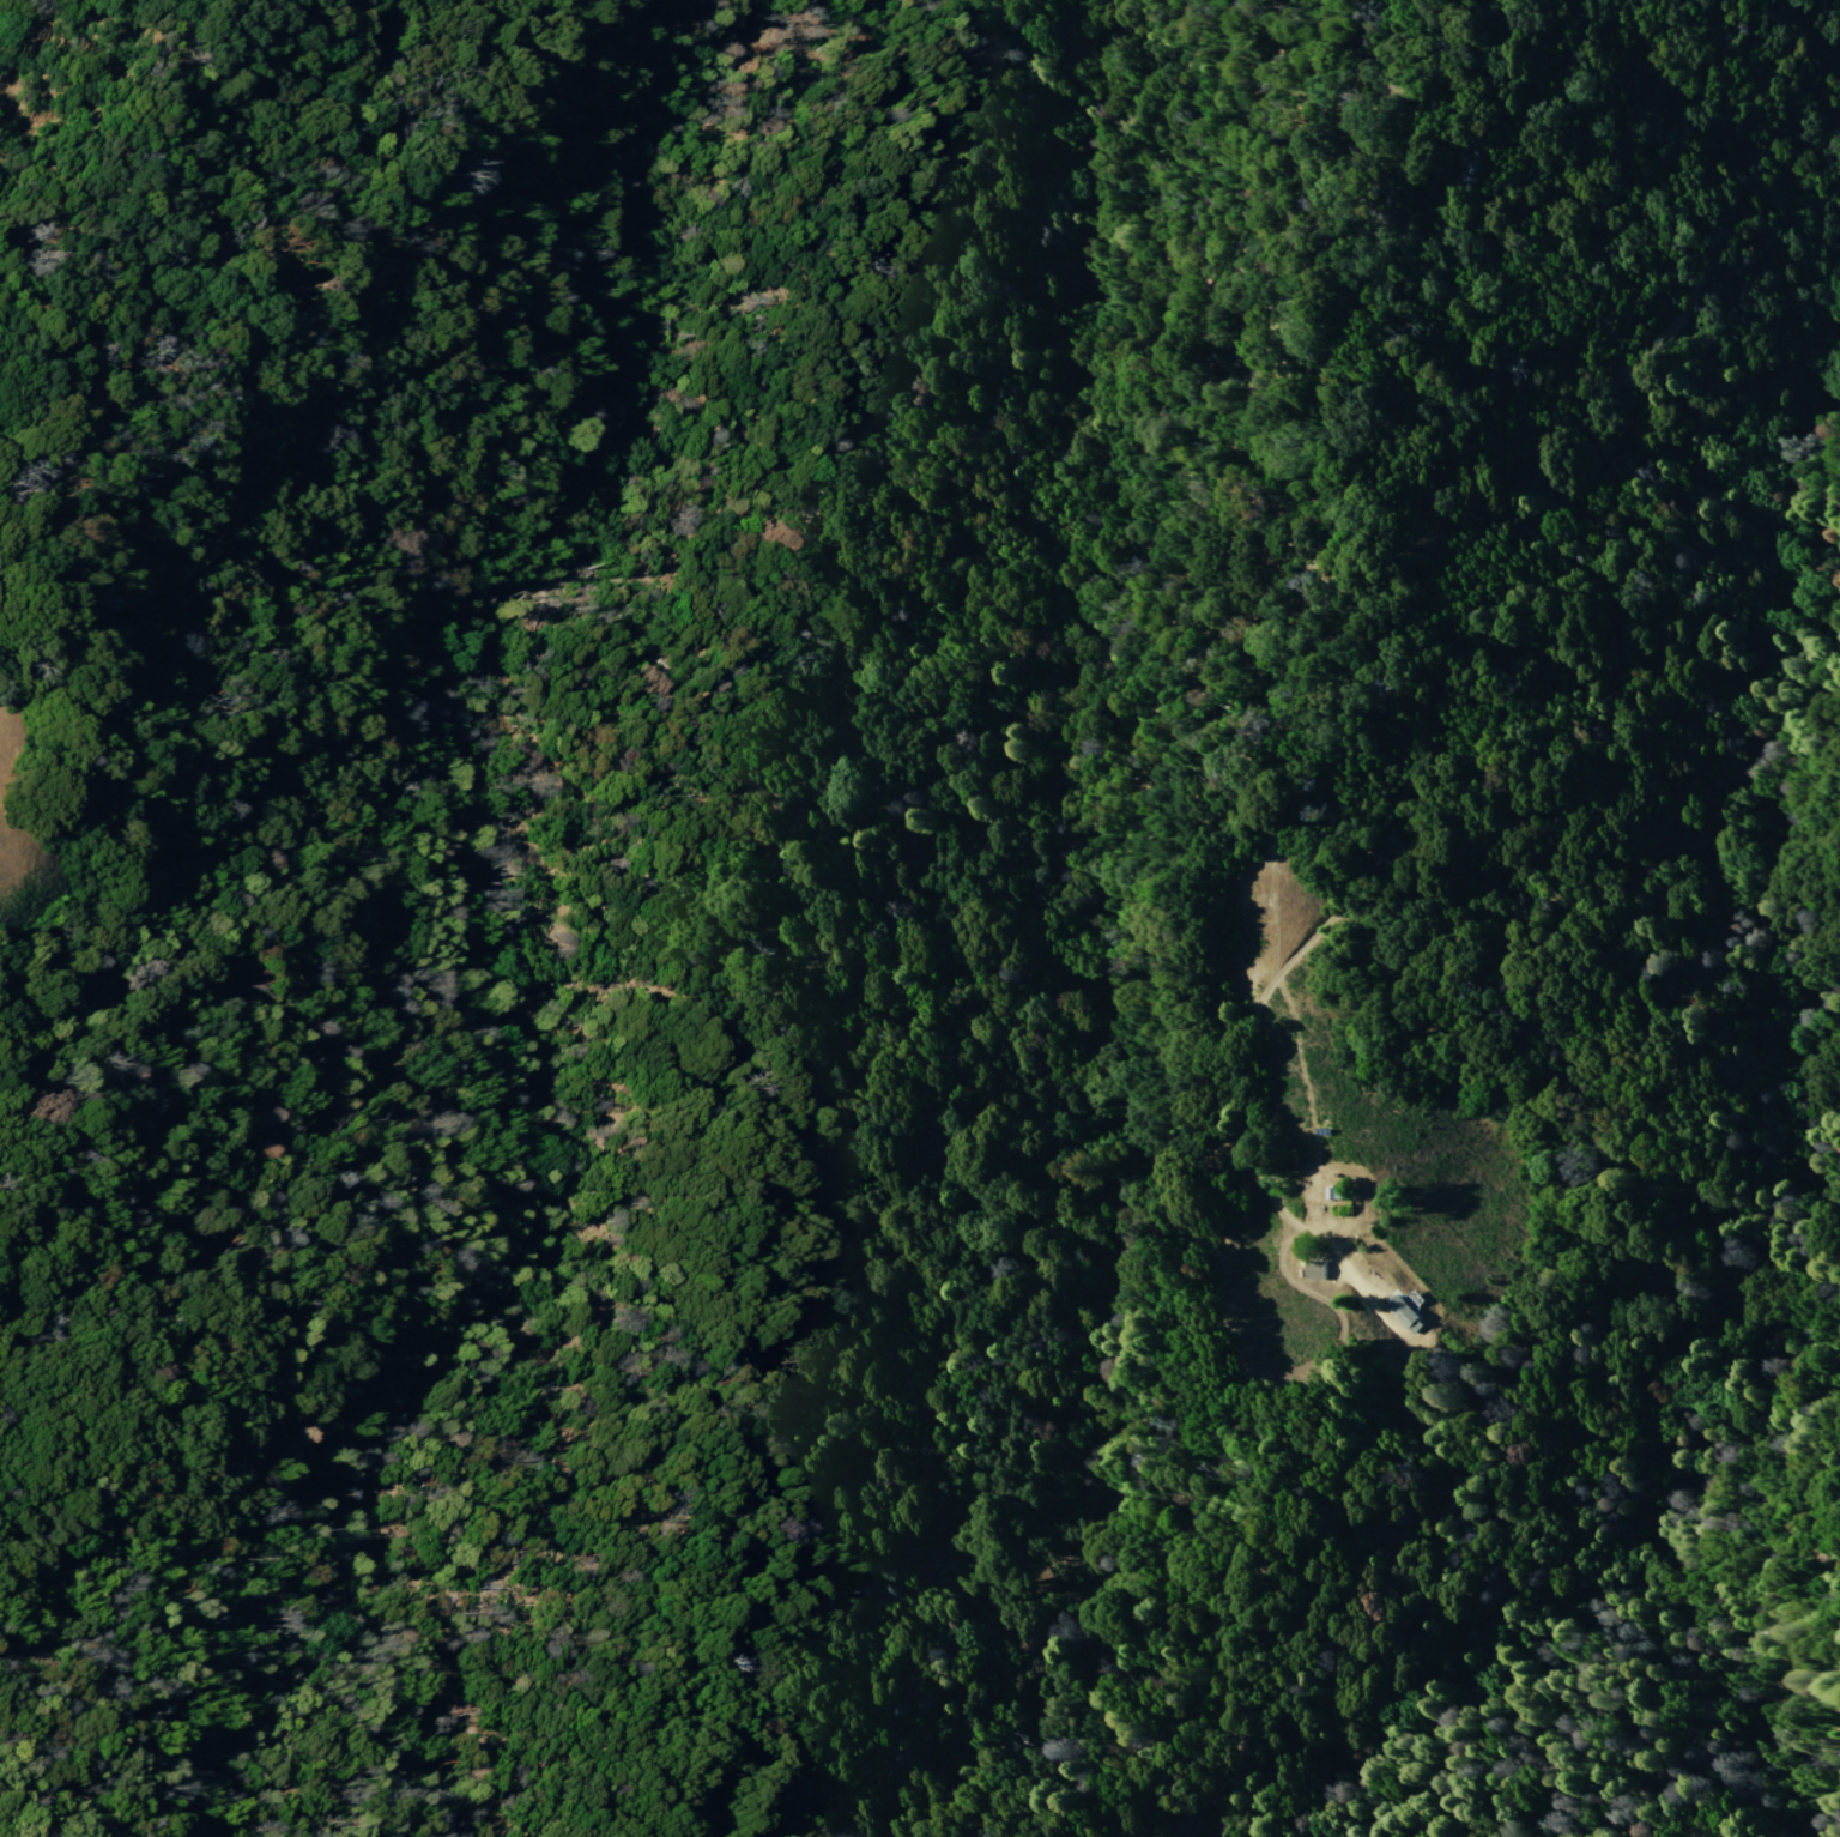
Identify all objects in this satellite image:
building: (1340, 1237)
building: (1408, 1312)

